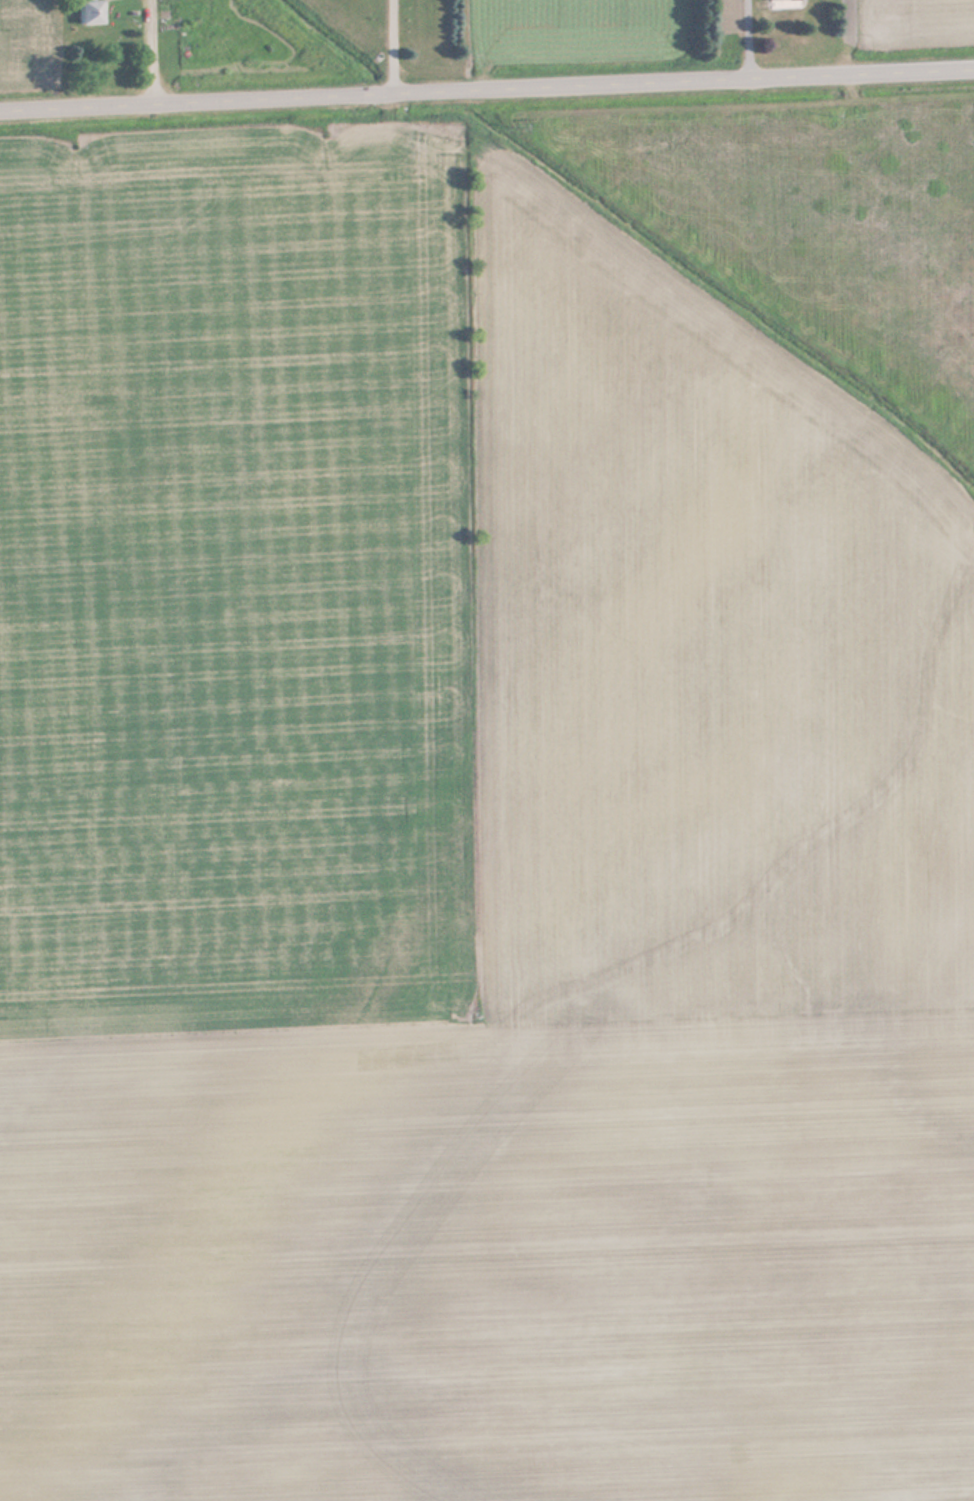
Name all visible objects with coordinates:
building: (92, 11)
road: (487, 89)

